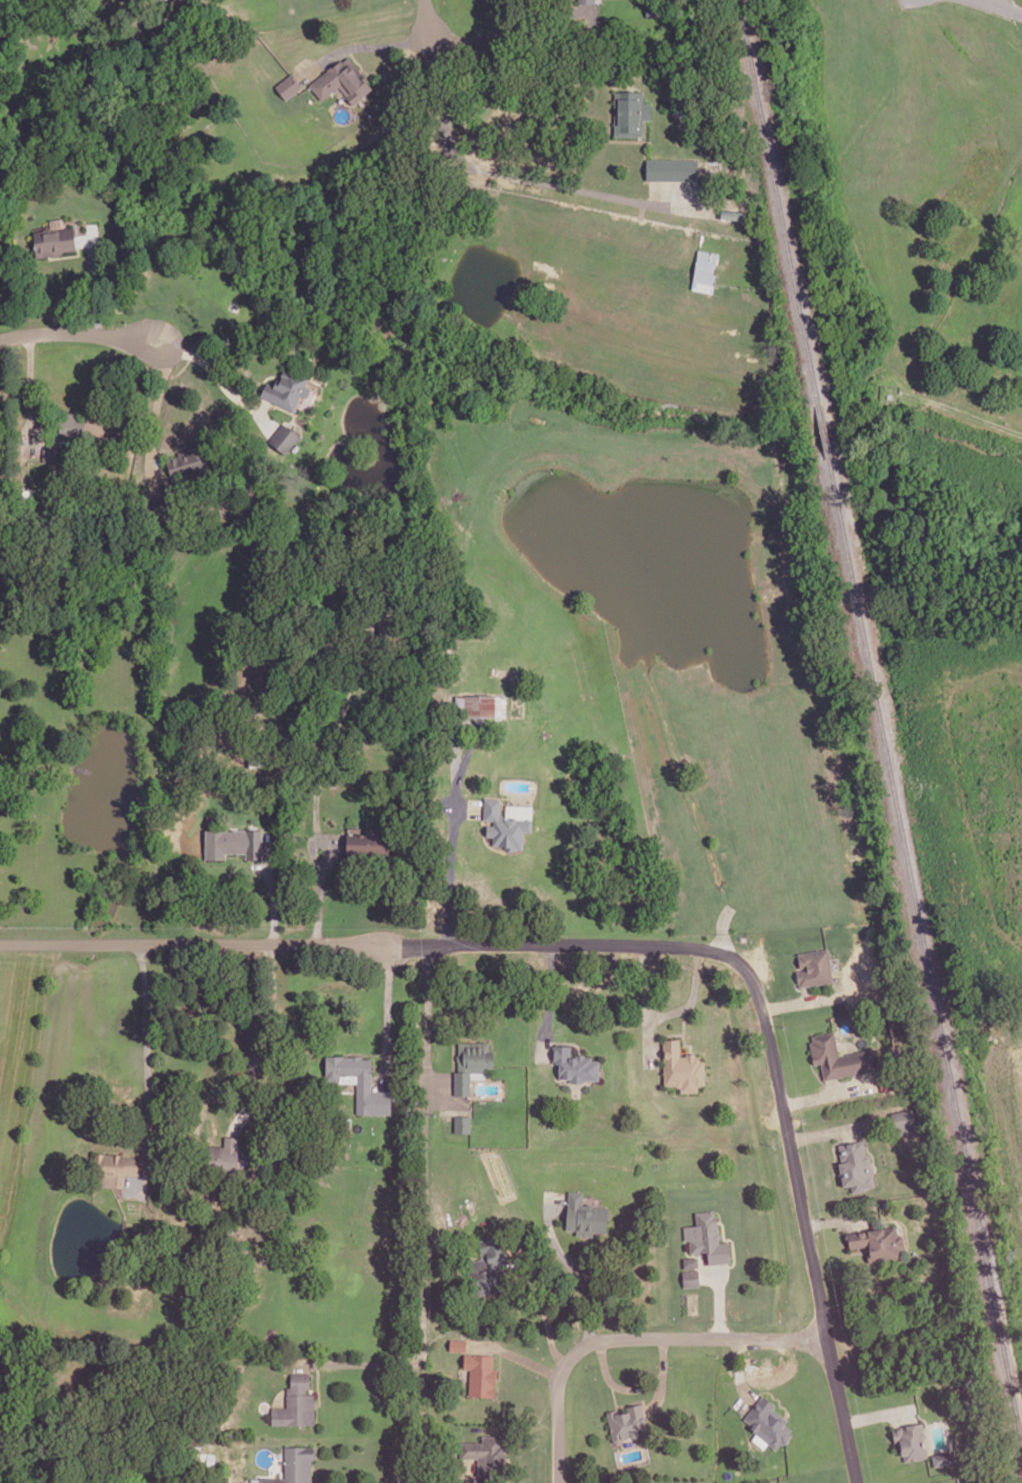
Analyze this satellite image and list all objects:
building: (584, 0)
building: (597, 1)
road: (1005, 6)
building: (652, 8)
road: (428, 18)
road: (502, 26)
road: (362, 45)
road: (355, 58)
building: (342, 79)
building: (288, 85)
building: (631, 112)
building: (673, 167)
road: (517, 175)
railway: (776, 202)
building: (735, 213)
building: (55, 239)
building: (705, 270)
road: (92, 279)
road: (77, 333)
road: (220, 376)
building: (288, 387)
road: (30, 394)
road: (967, 412)
road: (155, 414)
building: (73, 428)
railway: (821, 432)
building: (285, 437)
building: (189, 455)
building: (162, 503)
building: (393, 629)
building: (482, 705)
pier: (82, 768)
road: (468, 806)
building: (507, 821)
road: (453, 833)
building: (367, 838)
building: (233, 841)
road: (329, 860)
road: (272, 896)
road: (722, 929)
road: (370, 943)
railway: (925, 947)
building: (815, 966)
road: (644, 981)
road: (801, 1000)
road: (279, 1001)
road: (549, 1001)
road: (673, 1011)
road: (387, 1013)
road: (684, 1030)
road: (666, 1033)
road: (565, 1041)
flagpole: (371, 1051)
road: (366, 1053)
building: (475, 1055)
building: (839, 1056)
building: (574, 1063)
building: (682, 1066)
road: (148, 1068)
building: (359, 1081)
building: (462, 1082)
road: (661, 1086)
road: (827, 1092)
building: (904, 1117)
building: (463, 1123)
road: (838, 1129)
building: (225, 1149)
building: (856, 1165)
building: (113, 1168)
road: (124, 1194)
road: (123, 1207)
road: (424, 1214)
building: (585, 1214)
road: (838, 1218)
road: (806, 1219)
pier: (121, 1232)
building: (708, 1237)
building: (879, 1240)
road: (842, 1244)
road: (733, 1245)
building: (691, 1261)
building: (491, 1264)
road: (571, 1267)
building: (691, 1276)
road: (719, 1301)
road: (547, 1311)
road: (632, 1336)
building: (459, 1344)
road: (517, 1355)
road: (357, 1362)
road: (739, 1371)
building: (481, 1373)
road: (318, 1385)
road: (635, 1387)
road: (660, 1393)
building: (296, 1401)
road: (624, 1402)
road: (879, 1414)
building: (627, 1421)
building: (769, 1421)
building: (911, 1440)
building: (488, 1455)
building: (942, 1457)
building: (205, 1459)
building: (294, 1465)

